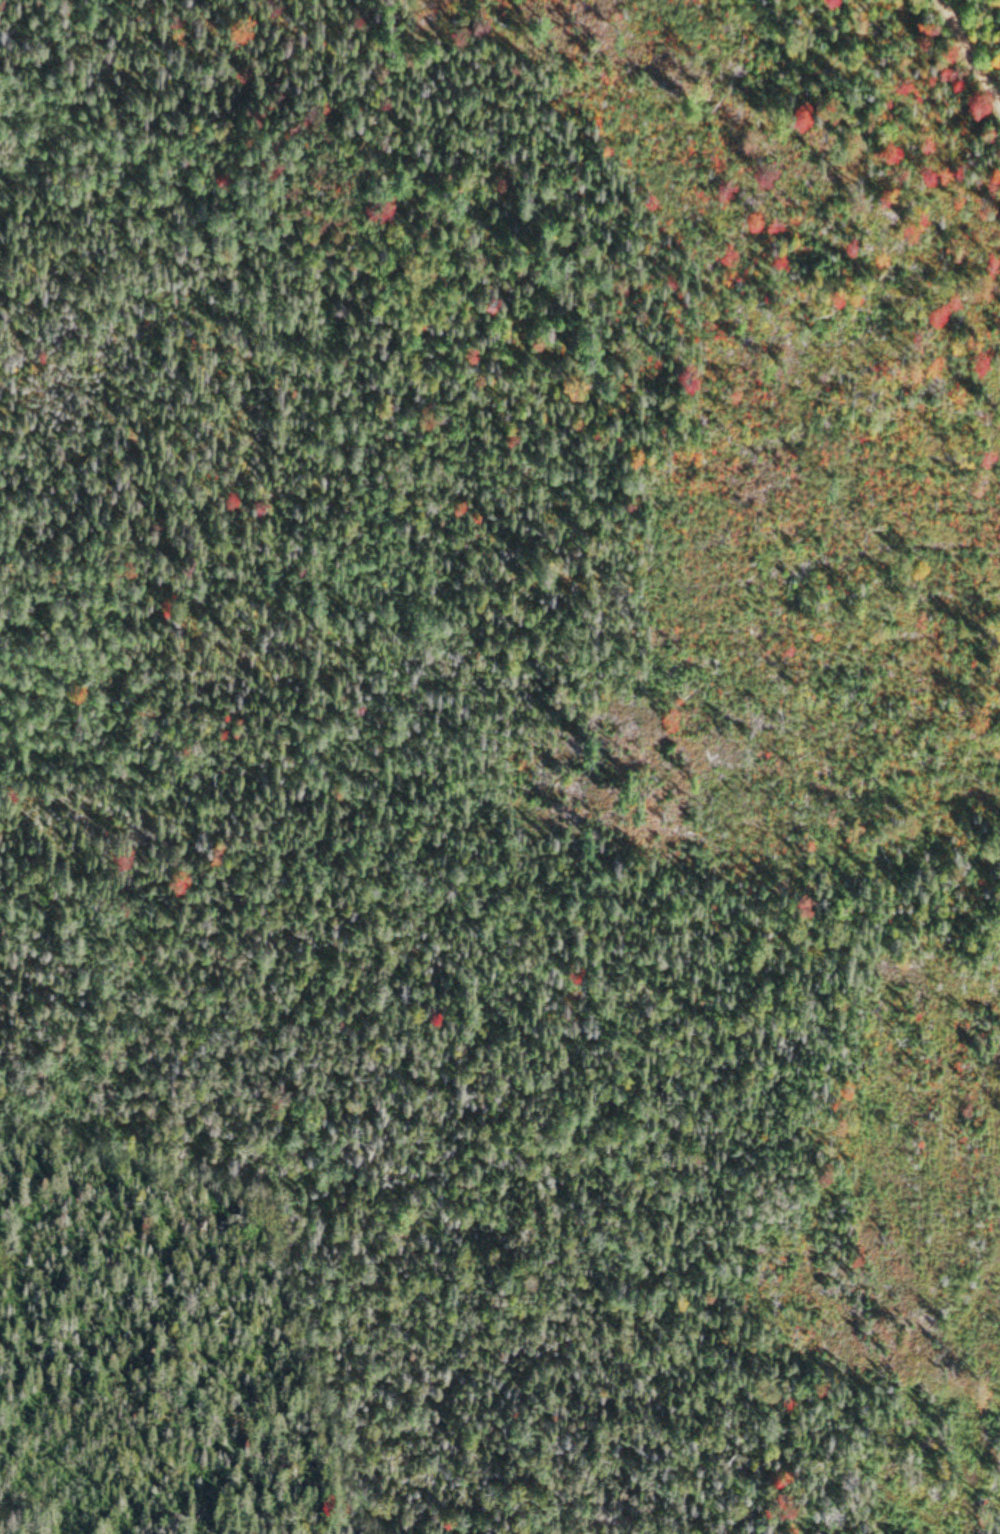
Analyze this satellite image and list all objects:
road: (971, 48)

